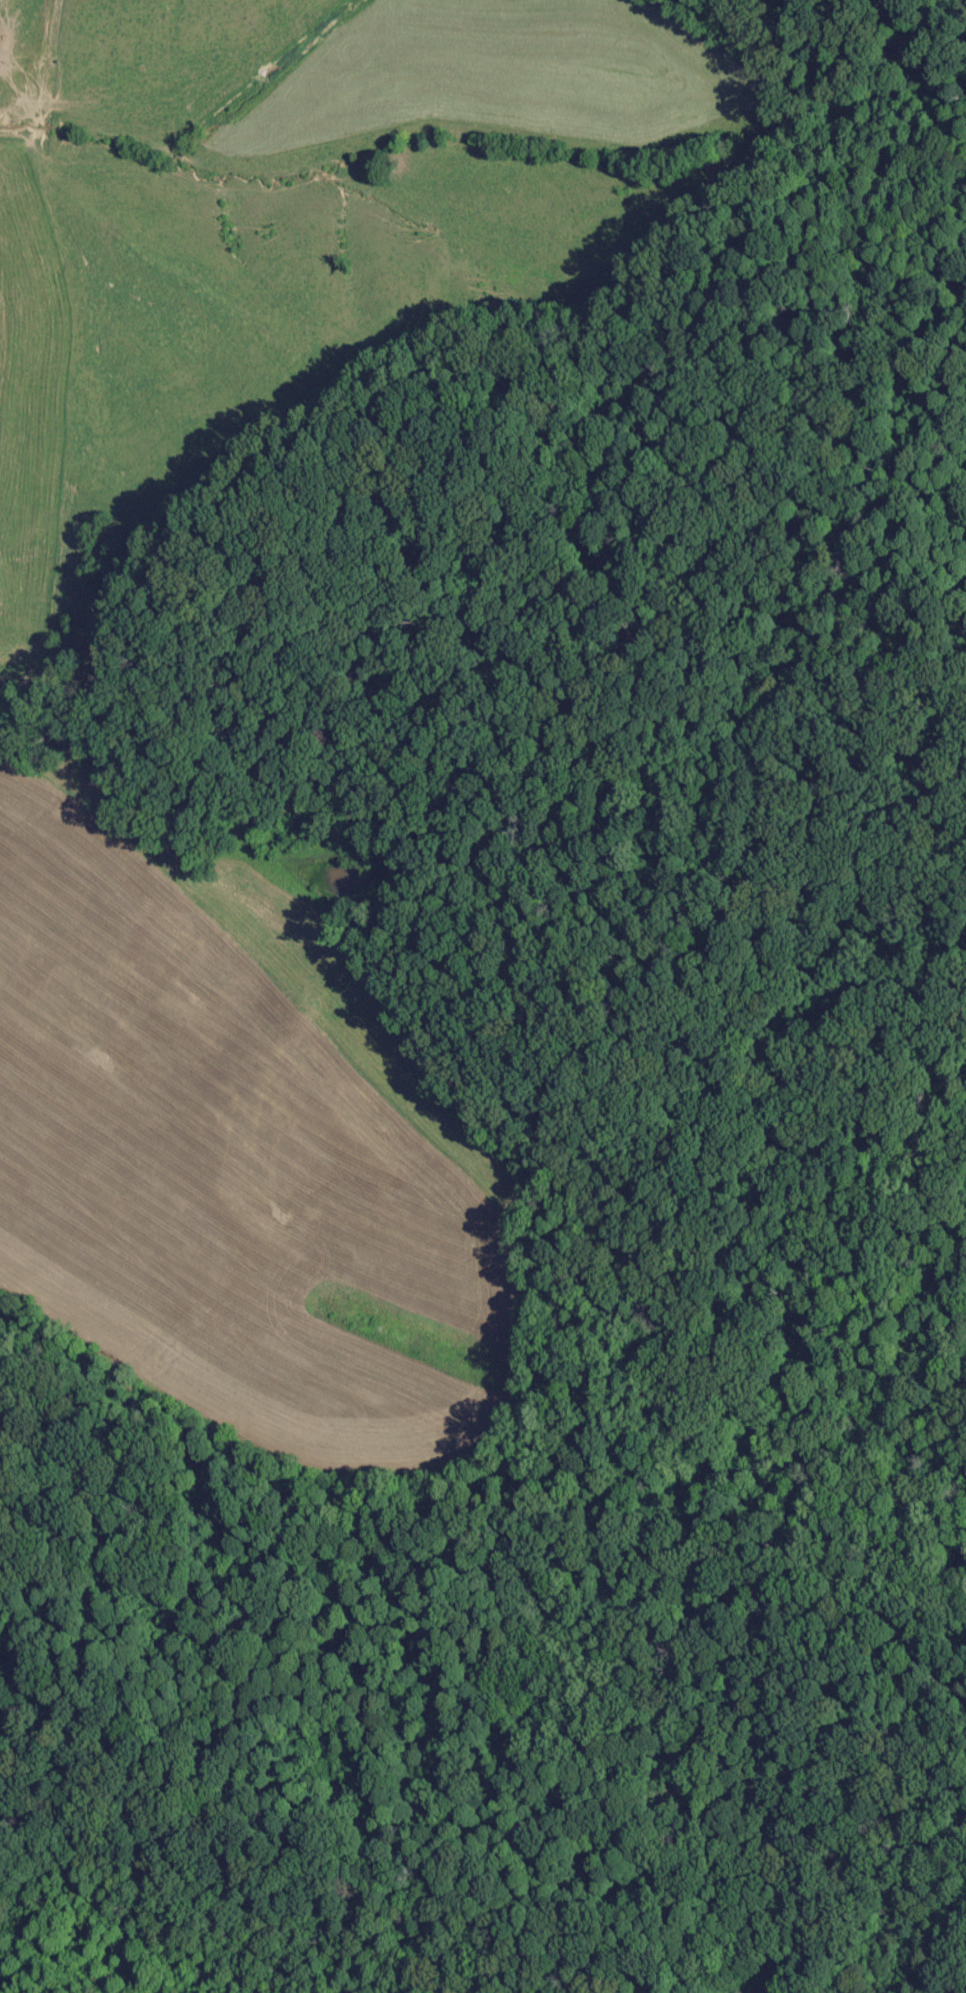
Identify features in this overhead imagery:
building: (770, 1980)
building: (753, 1991)

